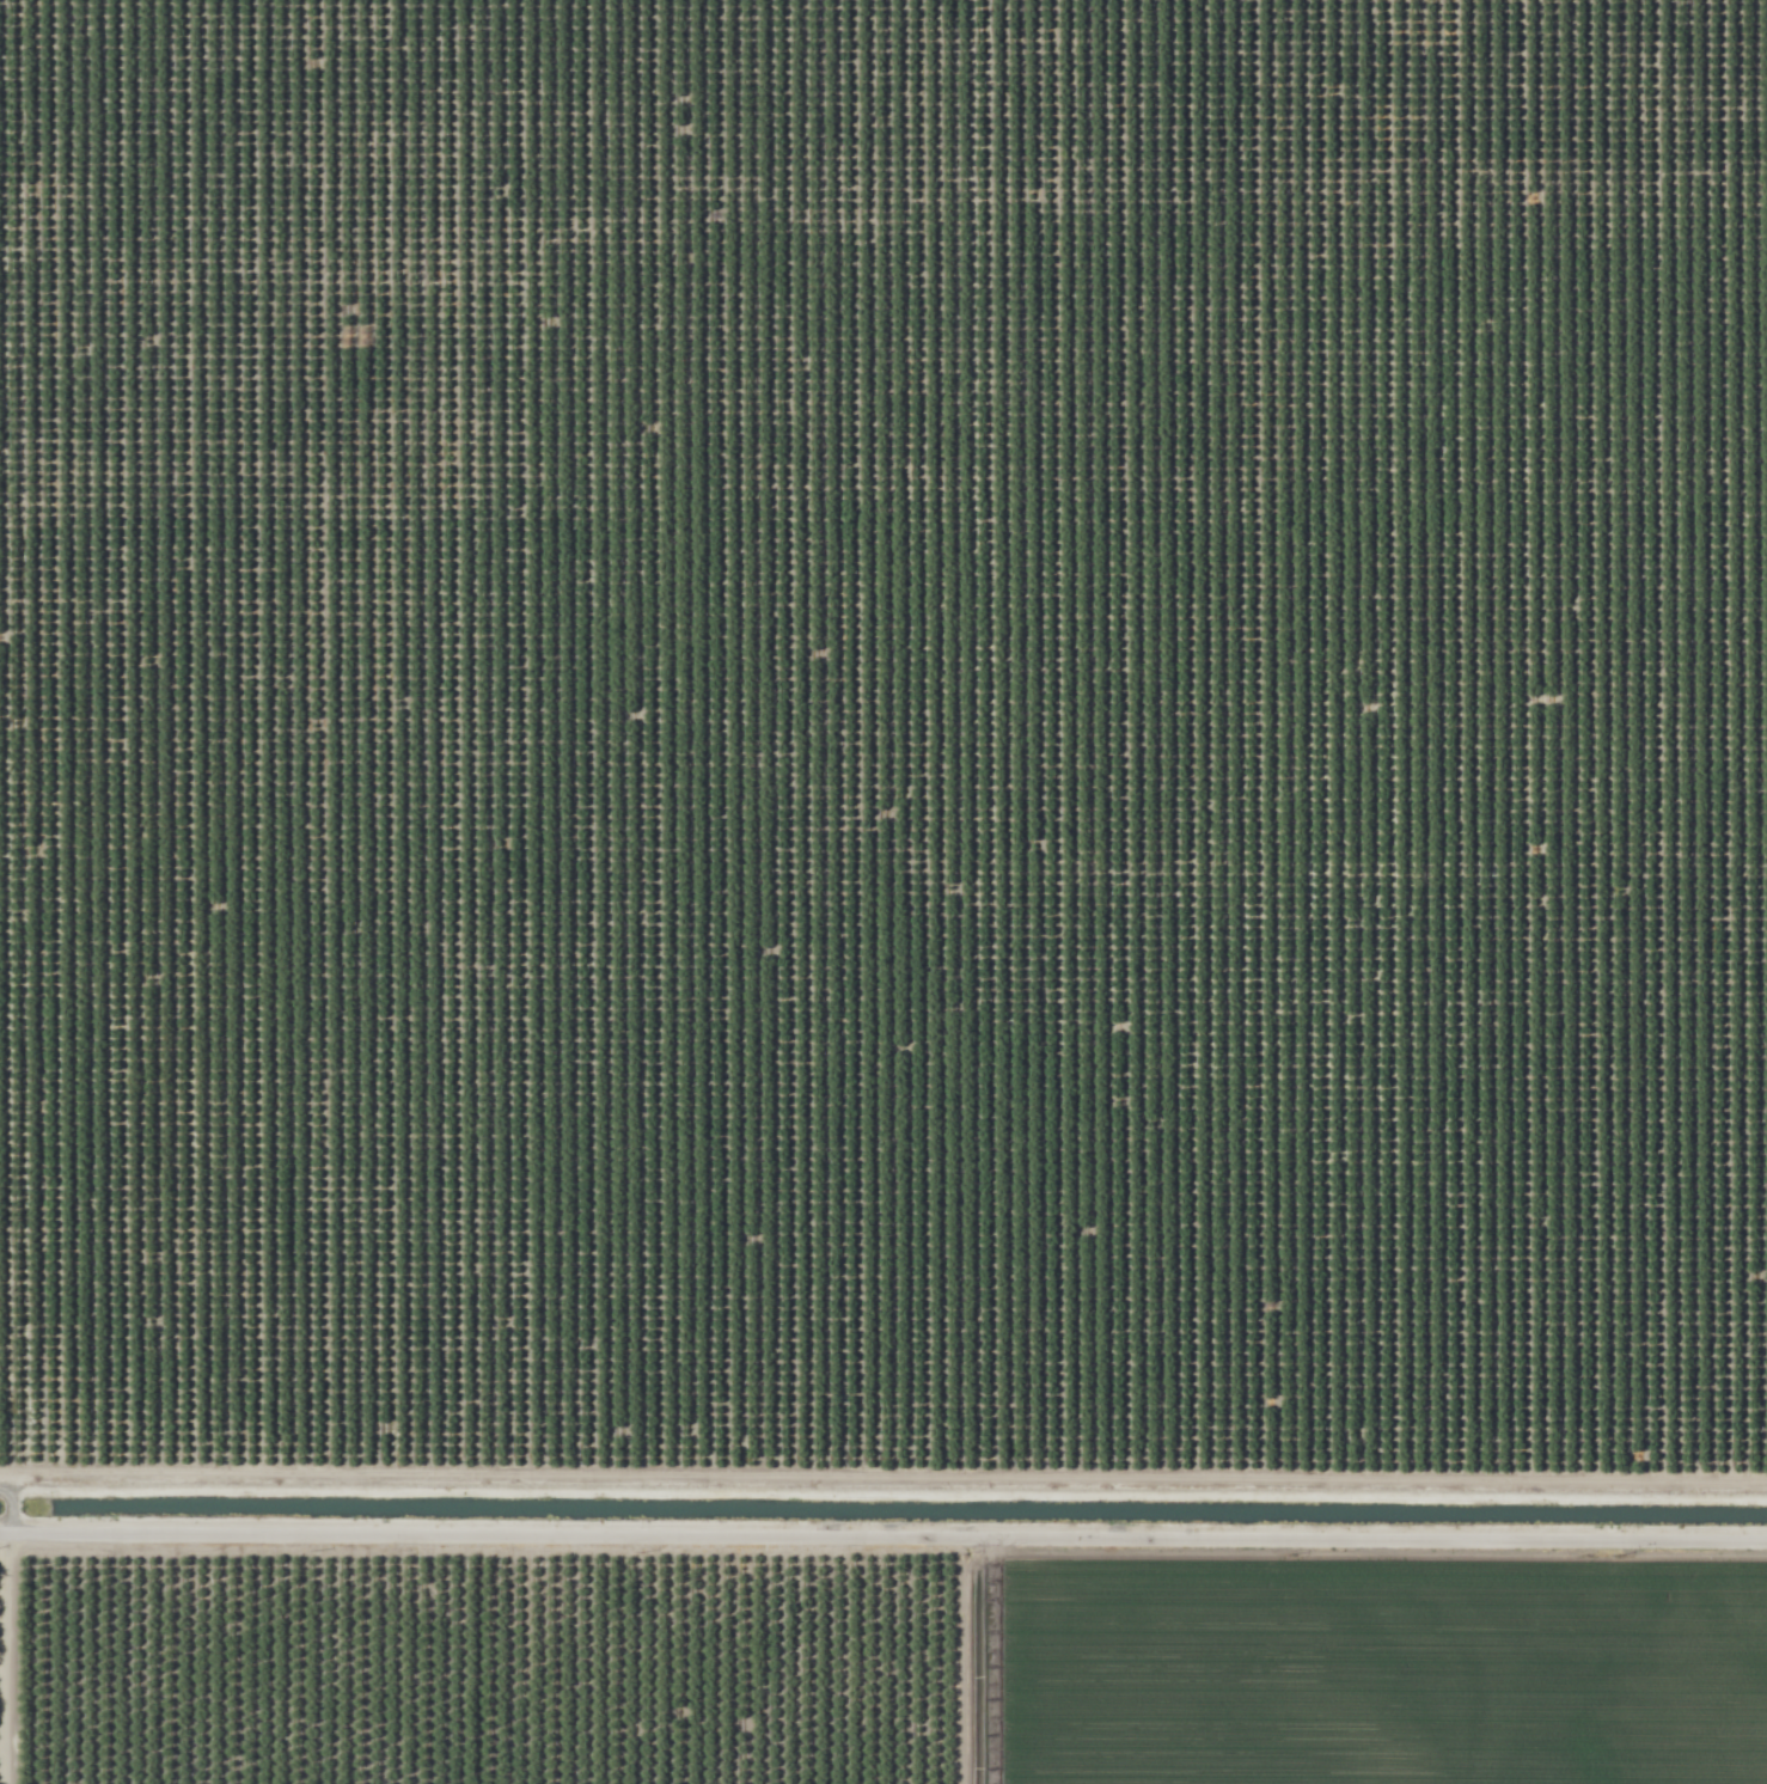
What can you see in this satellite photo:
road: (6, 892)
road: (882, 1535)
crop: (1, 1648)
crop: (505, 1670)
crop: (1389, 1674)

